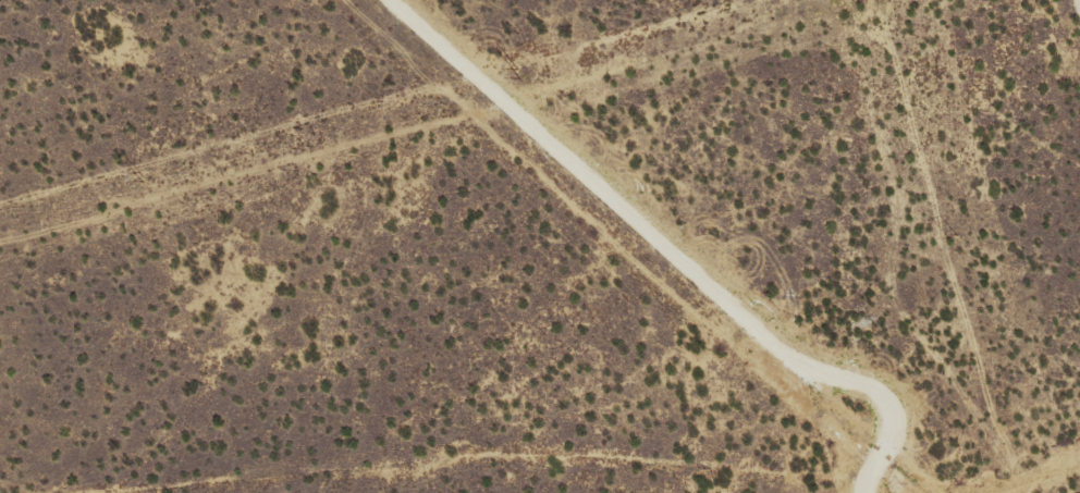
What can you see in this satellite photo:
power tower: (531, 69)
power tower: (151, 172)
power tower: (949, 237)

